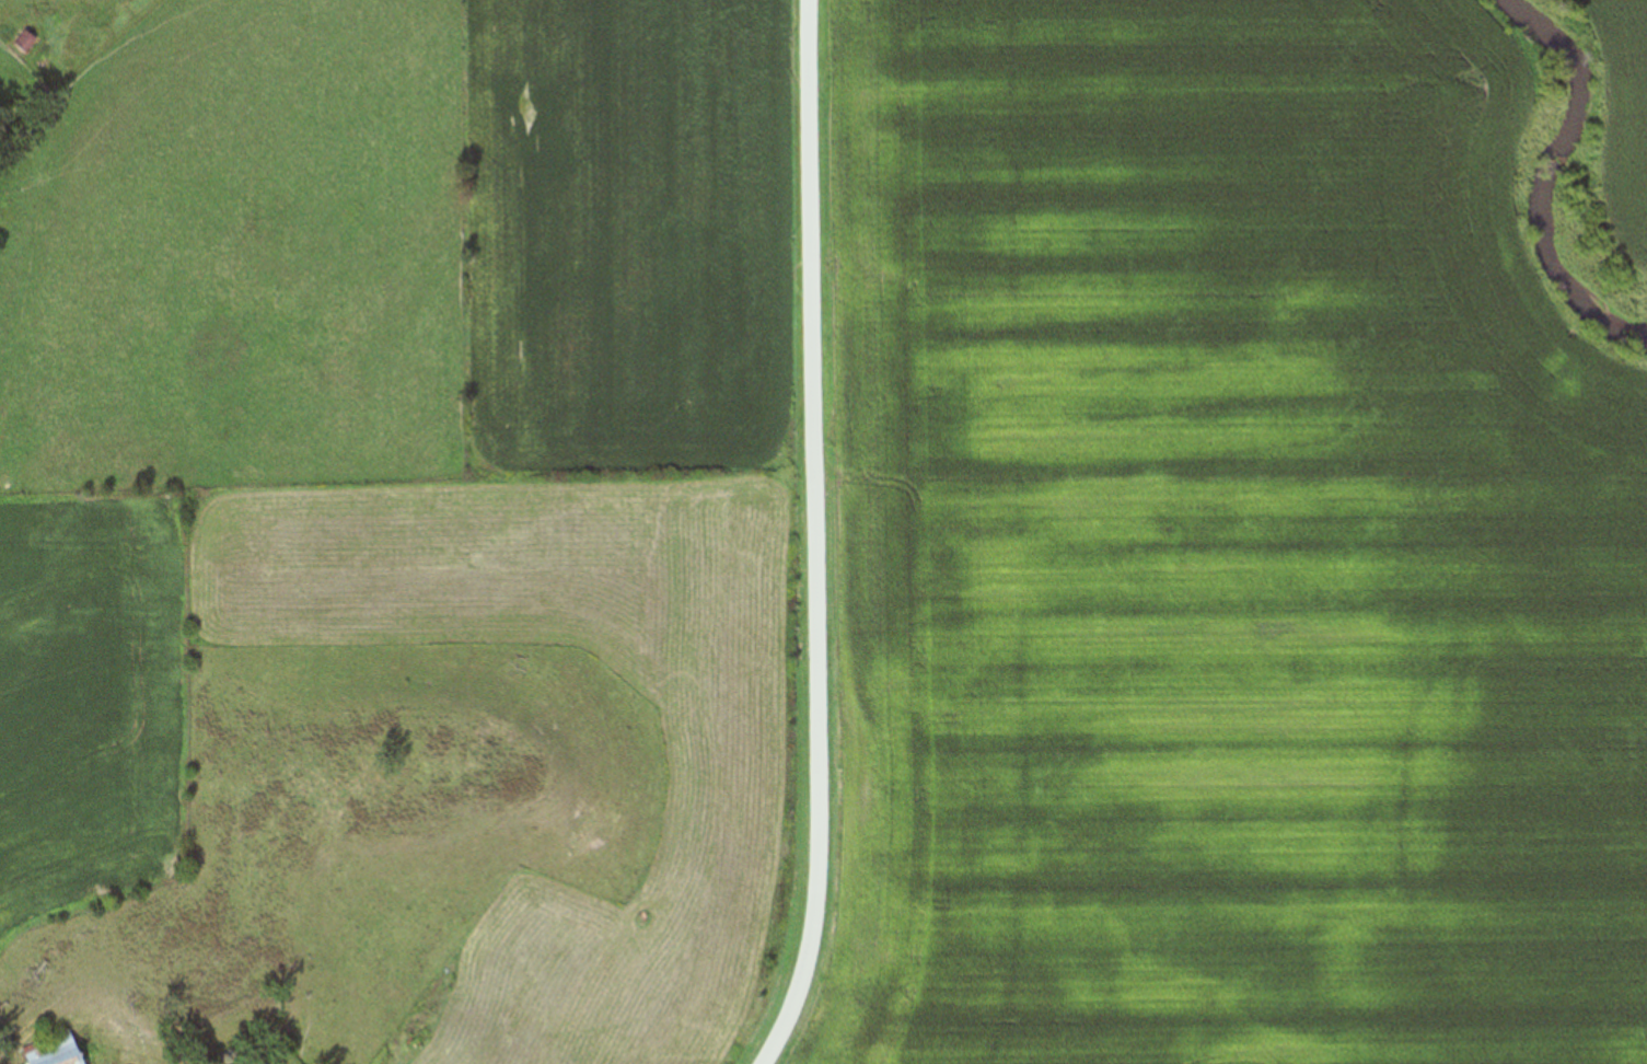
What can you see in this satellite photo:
building: (24, 43)
river: (1533, 177)
road: (814, 233)
road: (824, 771)
building: (42, 1049)

